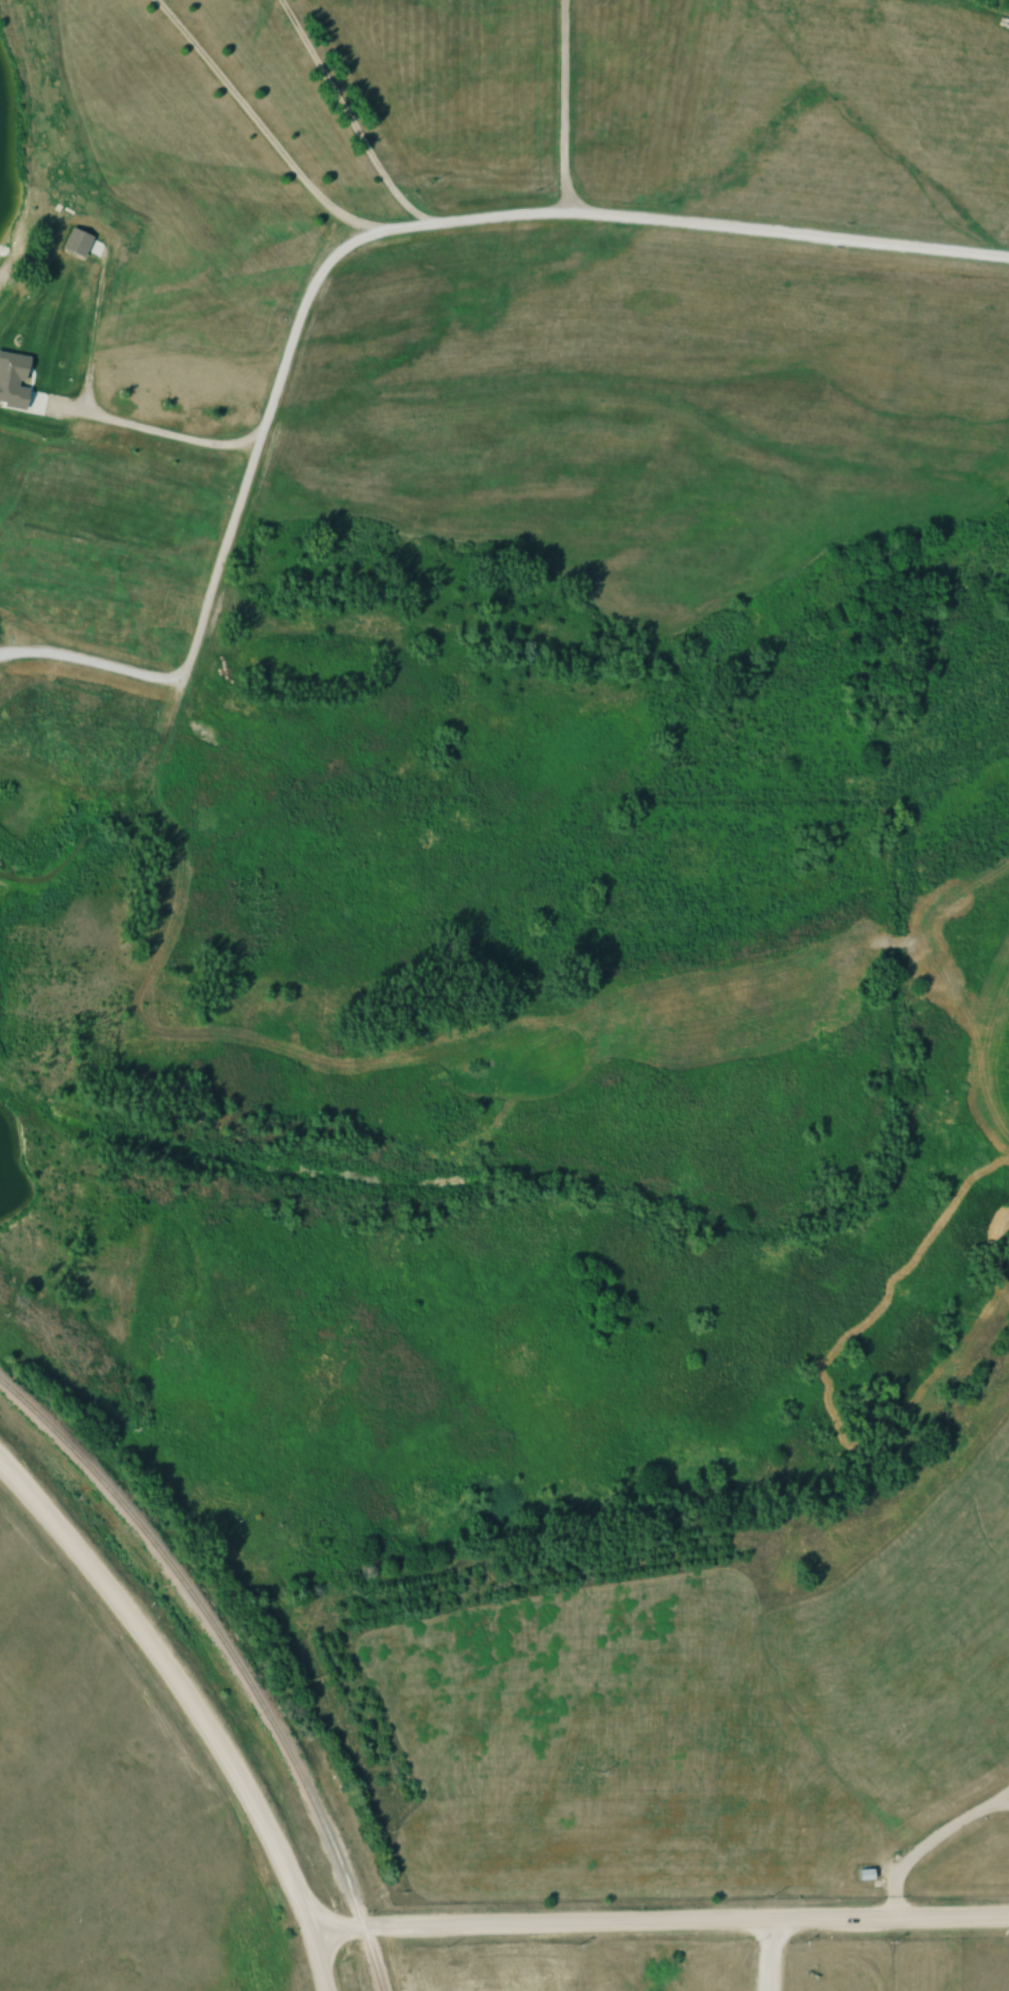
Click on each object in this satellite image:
road: (350, 120)
road: (532, 213)
railway: (235, 1657)
road: (930, 1849)
building: (864, 1875)
road: (381, 1927)
road: (764, 1959)
road: (314, 1963)

